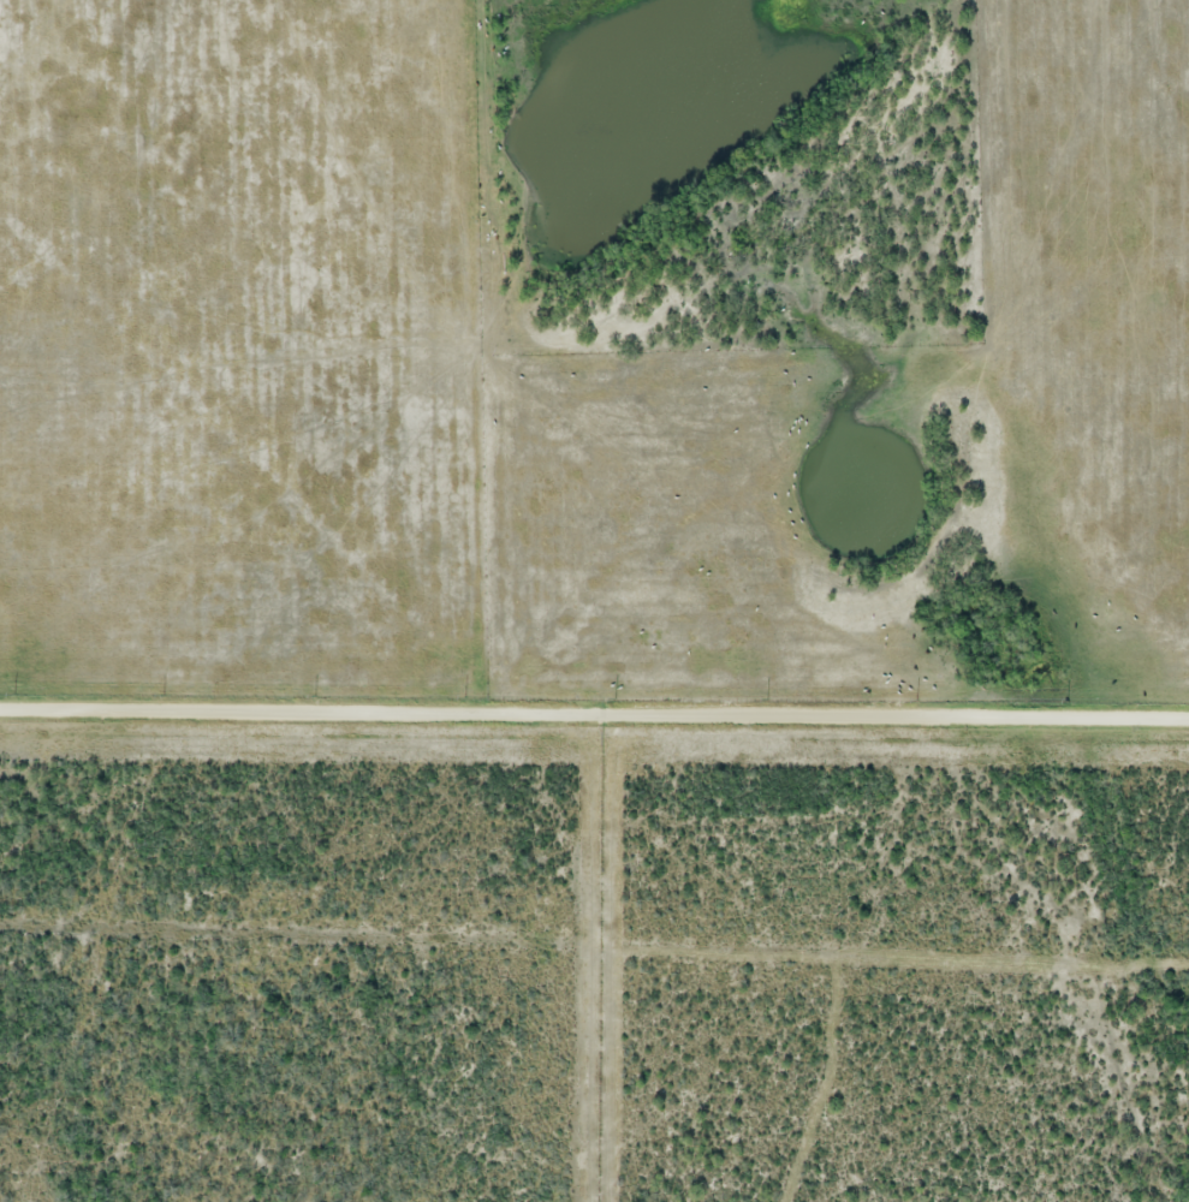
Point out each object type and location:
road: (594, 702)

